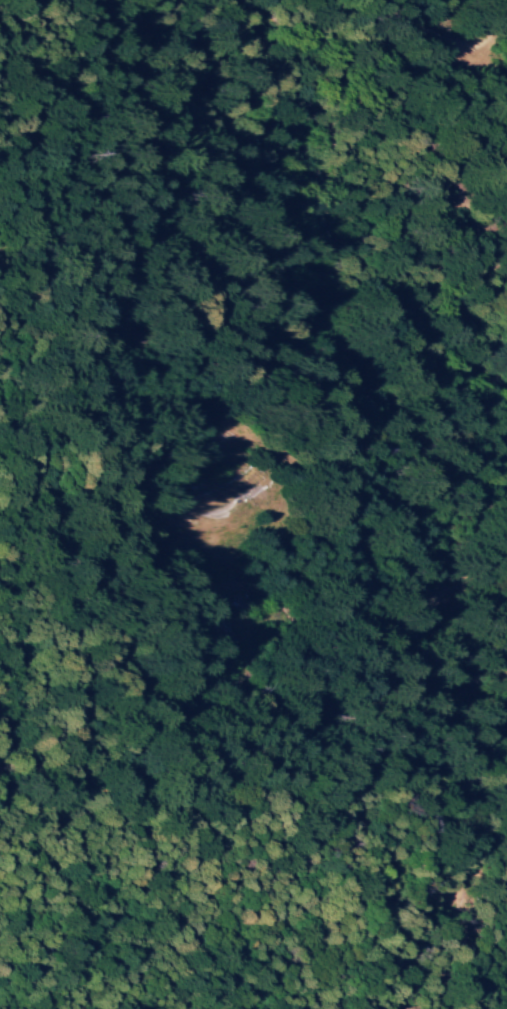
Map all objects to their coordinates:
road: (443, 42)
road: (127, 164)

